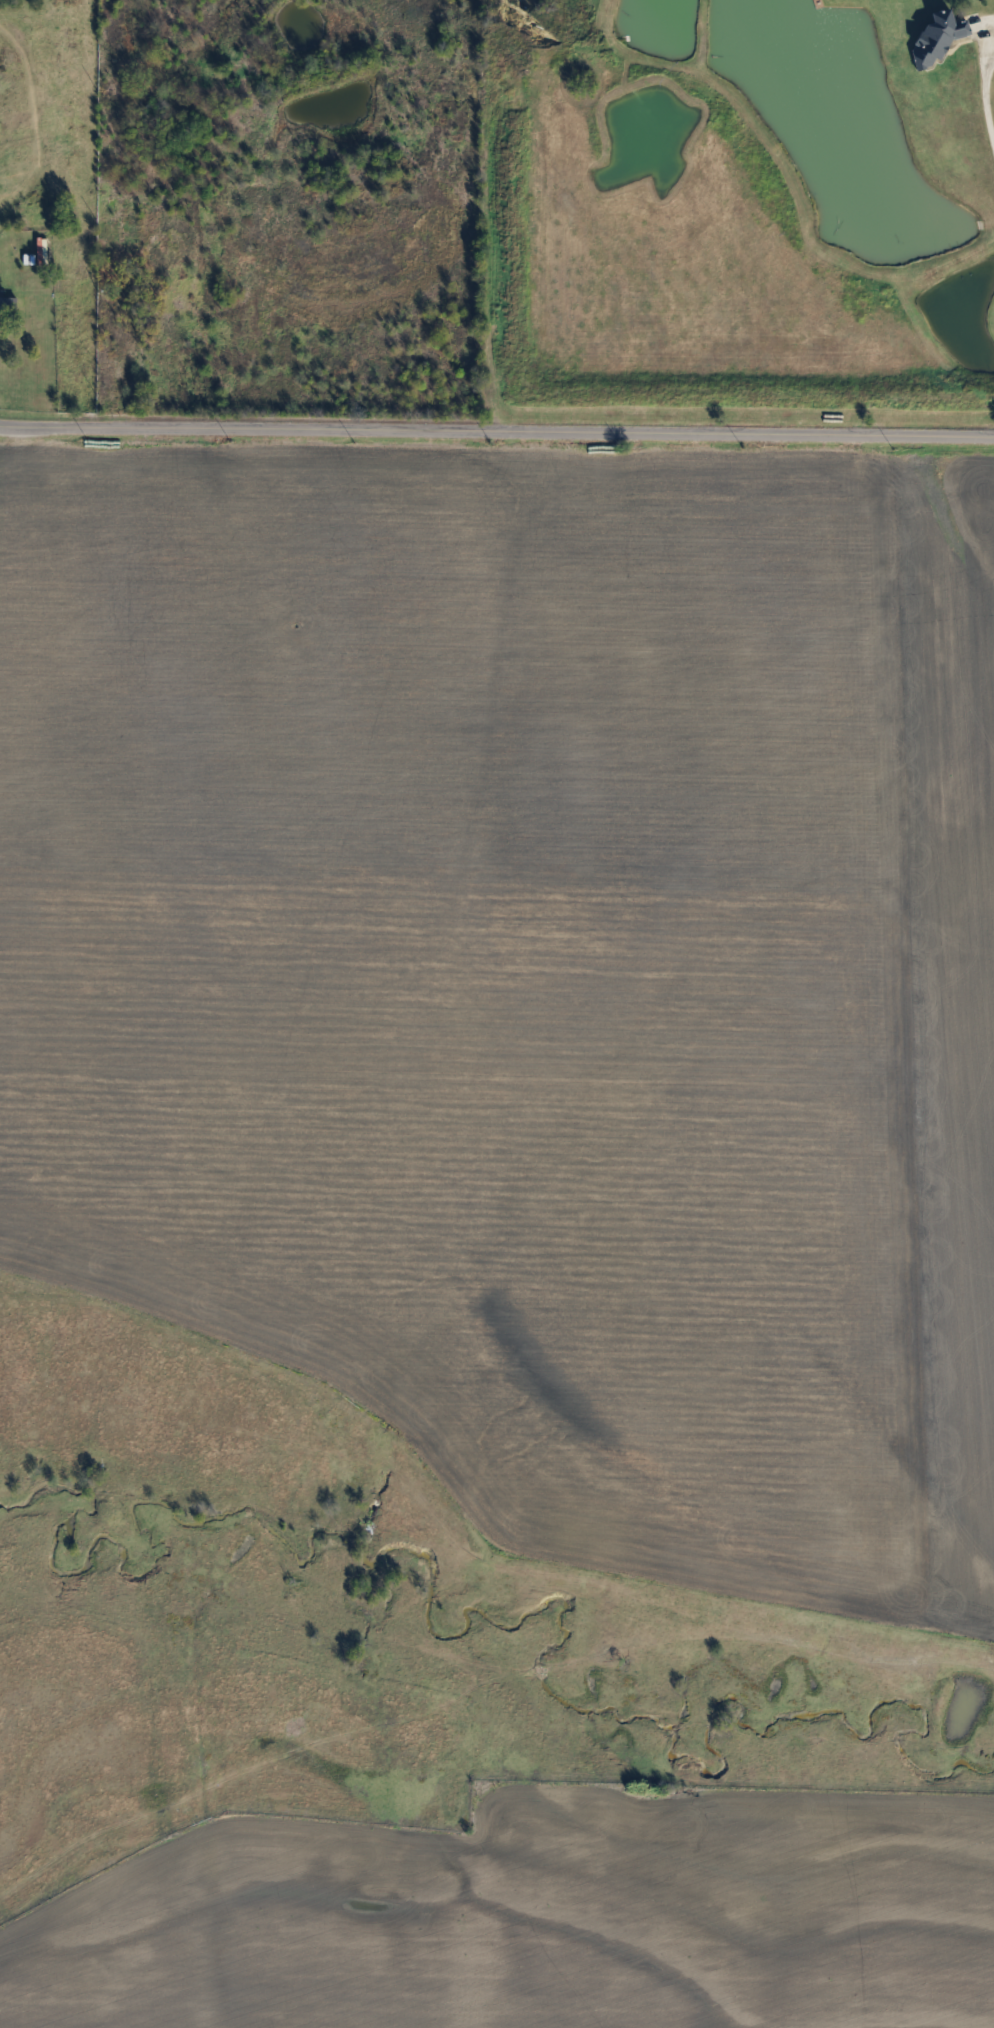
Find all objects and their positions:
building: (934, 37)
road: (986, 99)
building: (33, 194)
building: (11, 303)
road: (496, 434)

